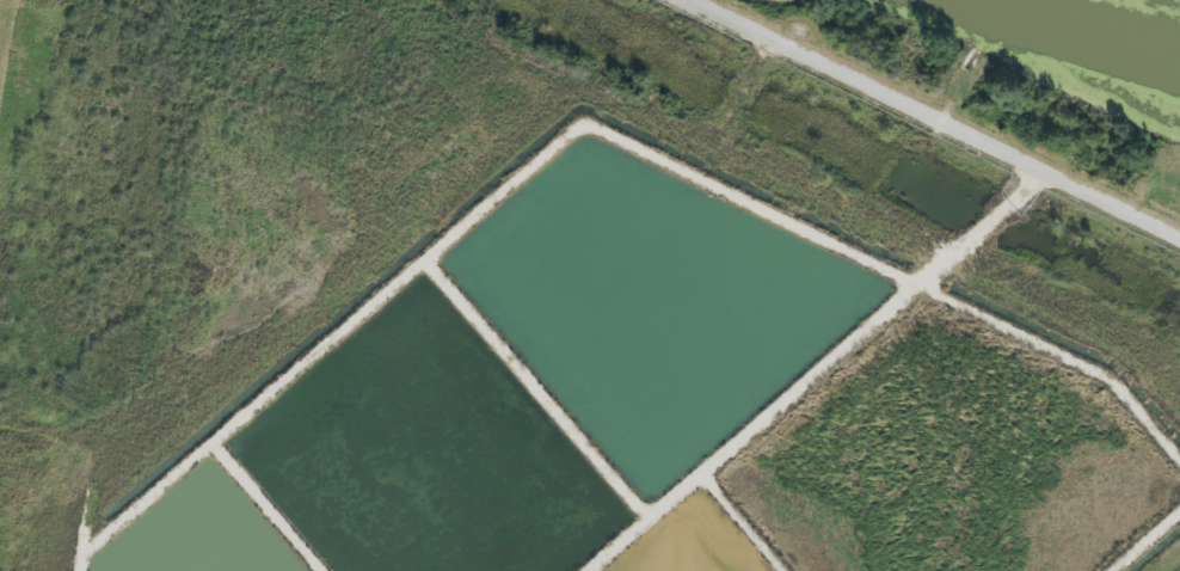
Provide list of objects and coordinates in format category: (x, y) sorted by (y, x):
road: (934, 118)

